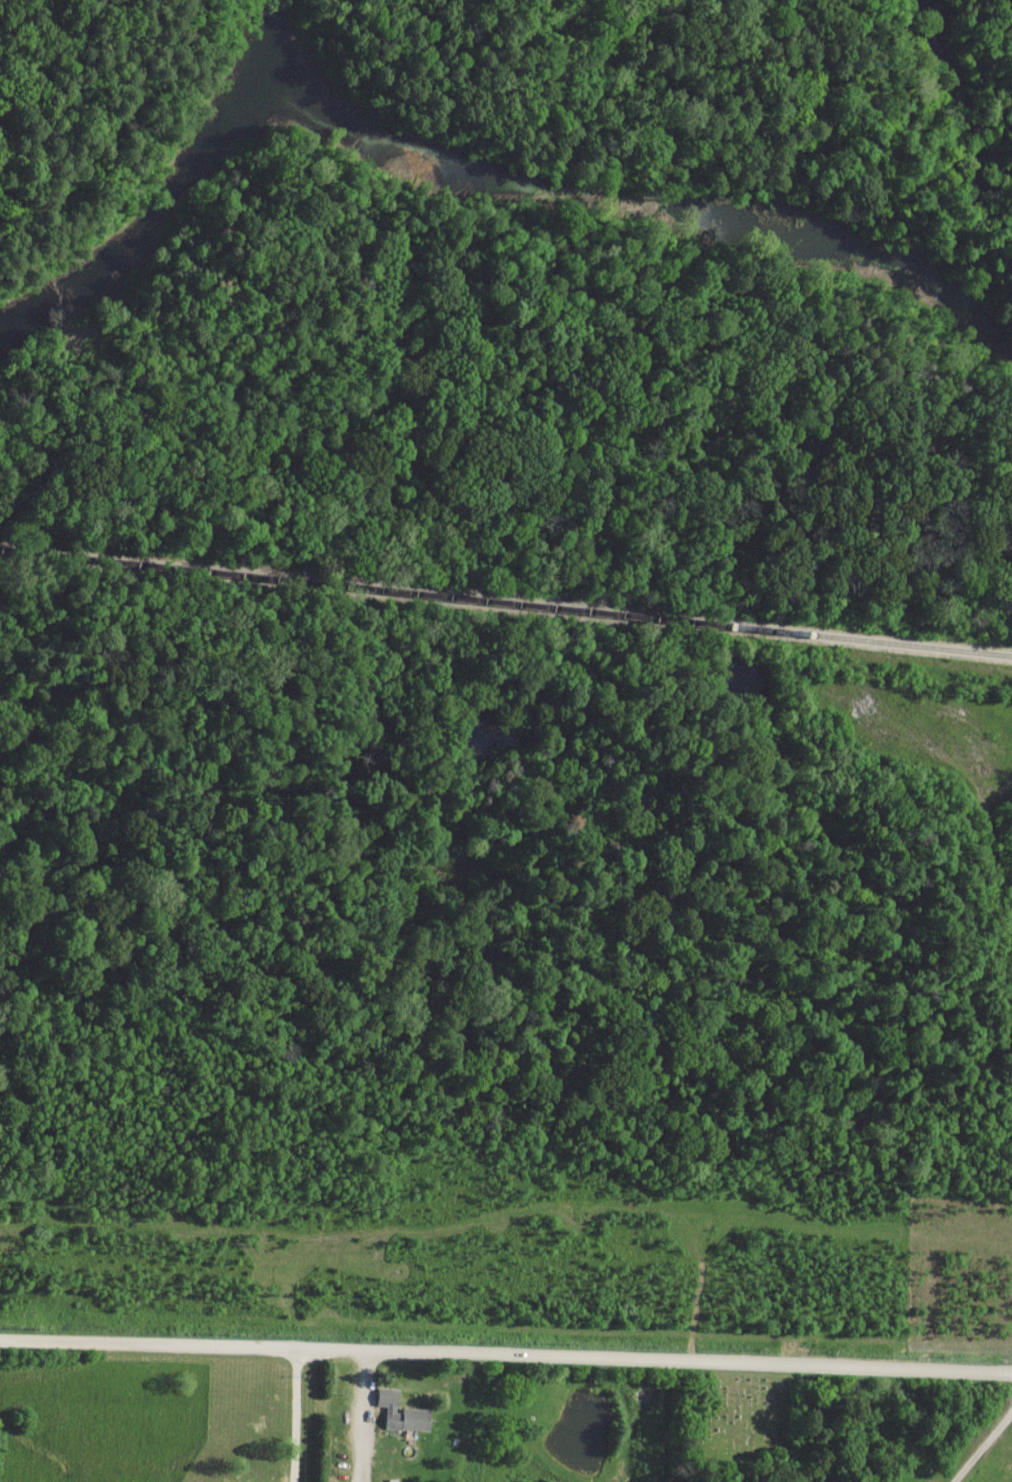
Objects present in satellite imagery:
railway: (505, 603)
road: (505, 1354)
building: (401, 1412)
road: (296, 1415)
road: (364, 1416)
road: (983, 1447)

